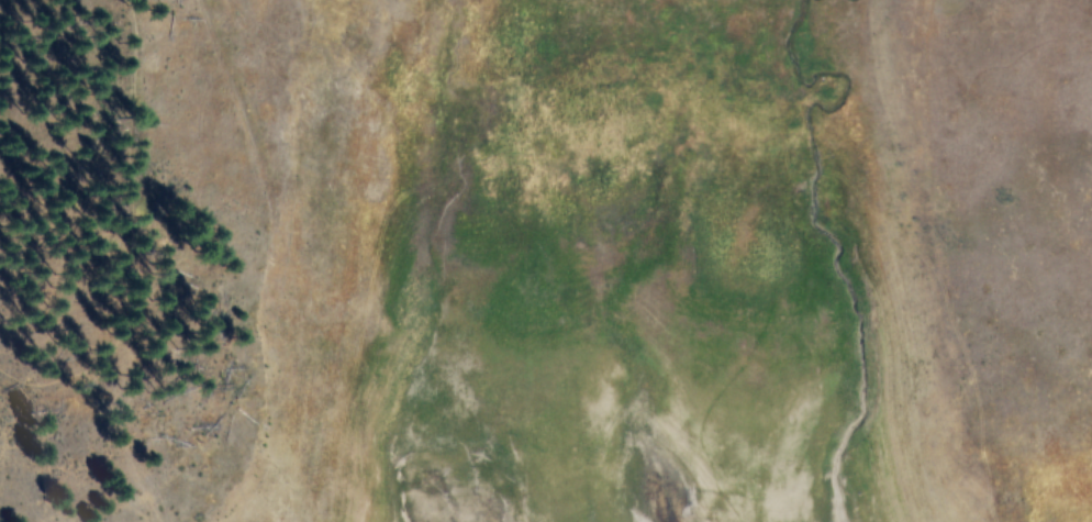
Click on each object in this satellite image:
road: (137, 238)

